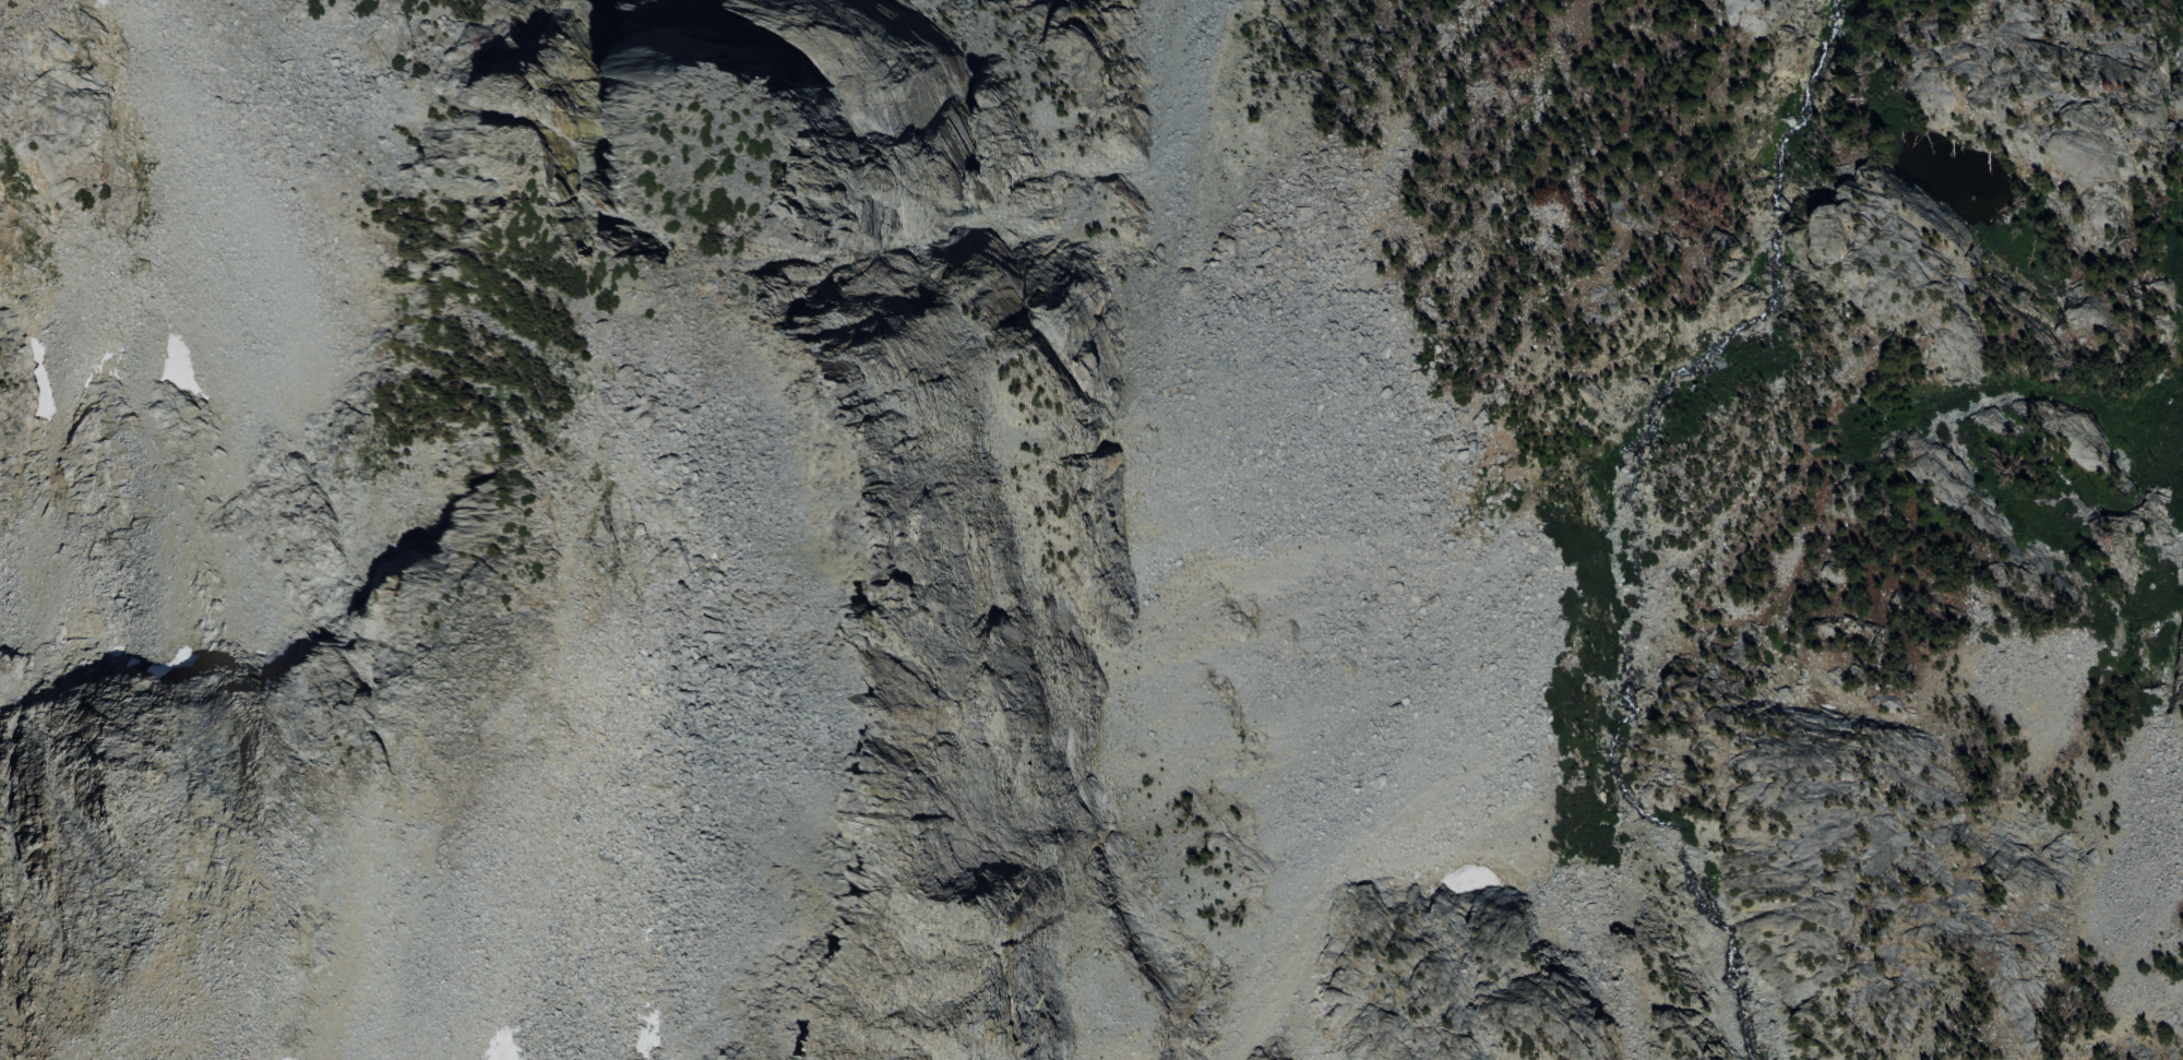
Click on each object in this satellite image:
road: (1988, 136)

